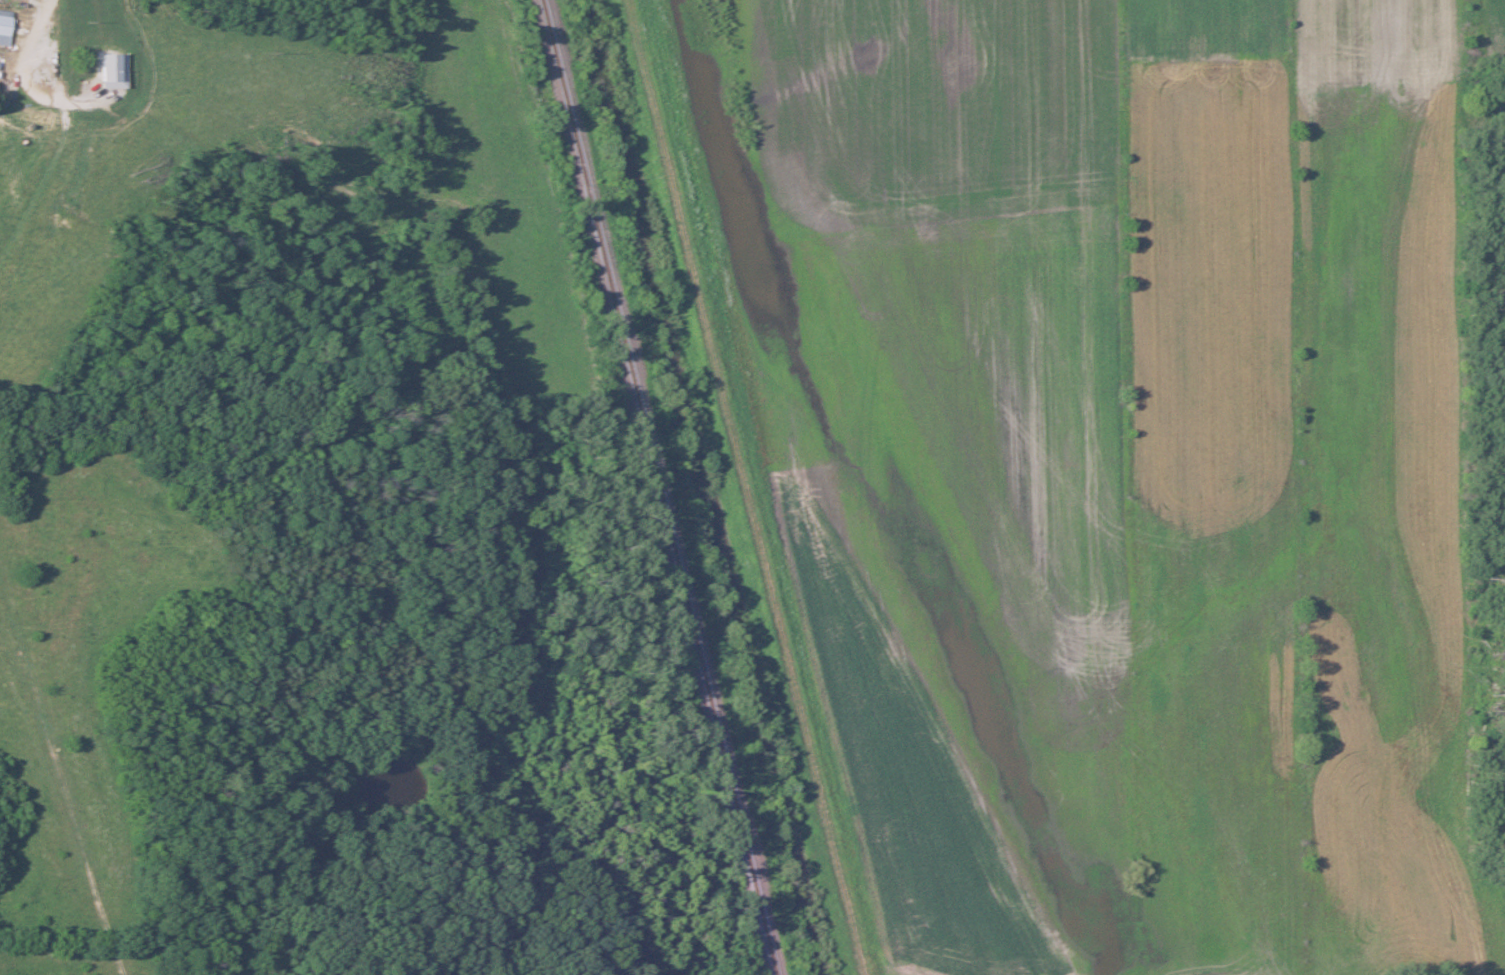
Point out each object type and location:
building: (2, 25)
building: (39, 63)
road: (66, 126)
railway: (663, 487)
road: (75, 766)

